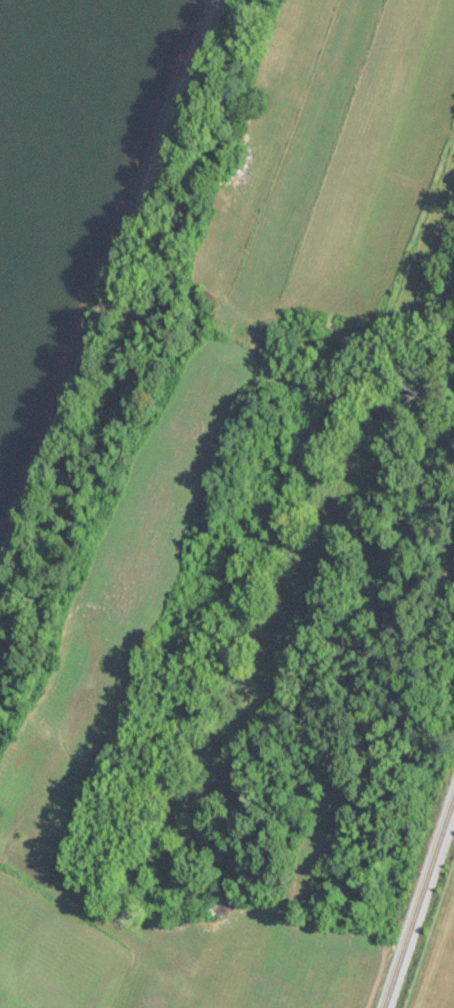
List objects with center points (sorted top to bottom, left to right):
airport runway: (305, 143)
railway: (417, 893)

